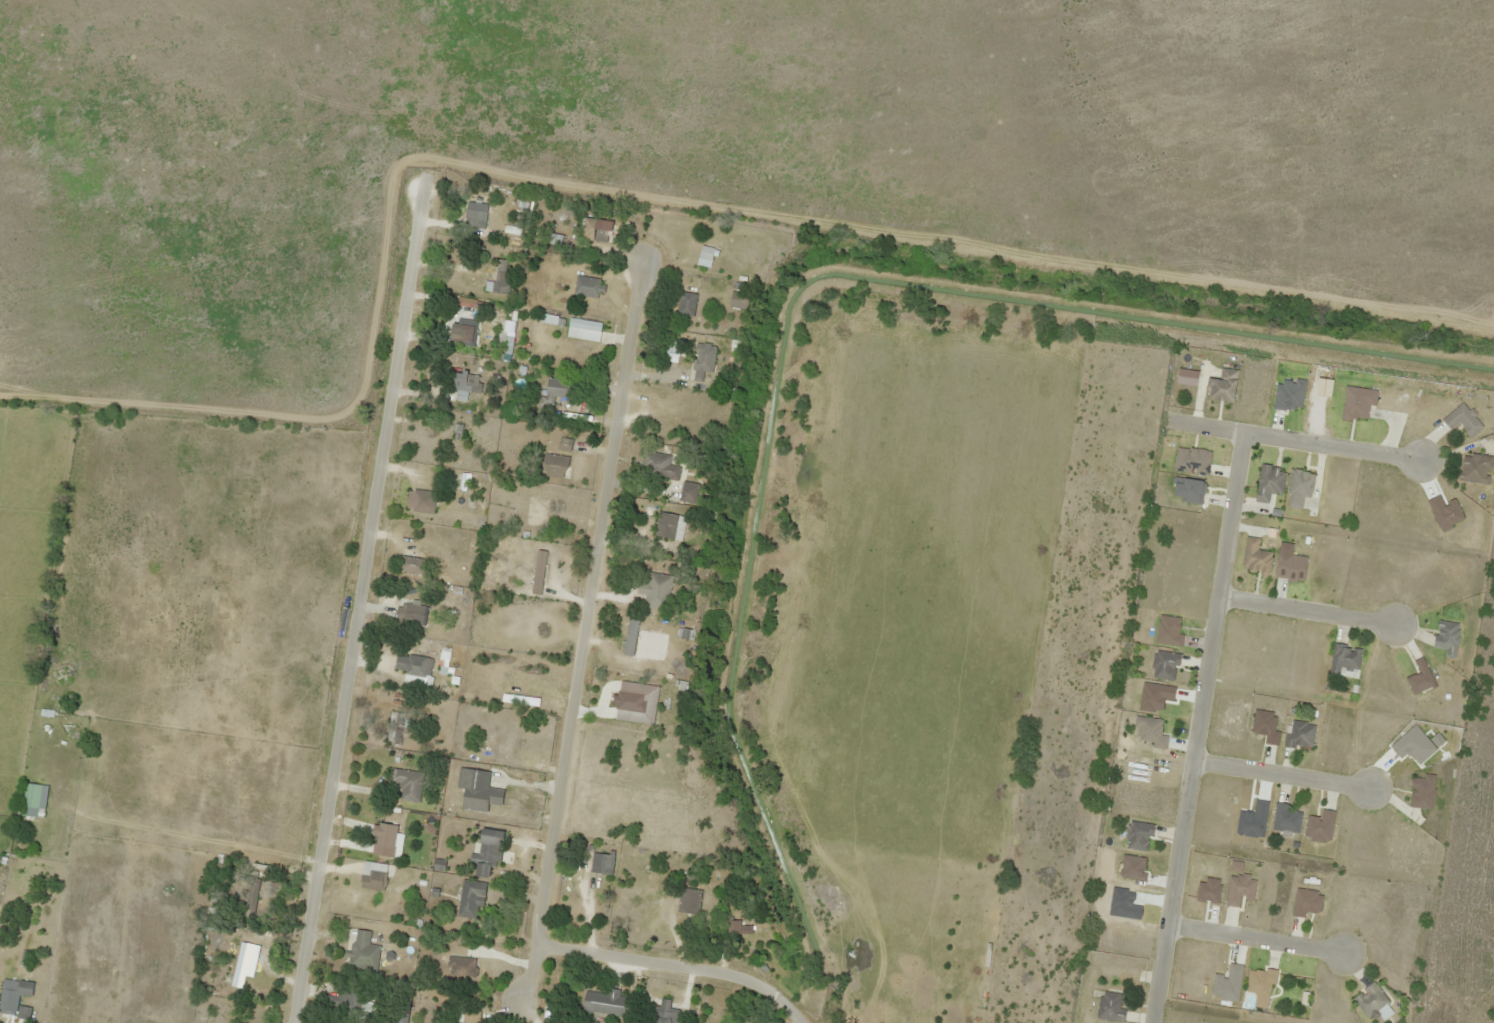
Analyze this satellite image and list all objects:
building: (475, 214)
building: (598, 231)
building: (704, 256)
building: (501, 277)
road: (1222, 282)
building: (587, 287)
building: (738, 300)
building: (466, 302)
building: (684, 303)
building: (583, 330)
building: (461, 331)
building: (507, 336)
building: (702, 360)
building: (1222, 385)
building: (465, 386)
building: (557, 389)
building: (1461, 420)
building: (458, 431)
road: (1293, 439)
building: (564, 443)
building: (554, 465)
building: (657, 465)
building: (1475, 468)
building: (461, 481)
building: (1268, 481)
building: (688, 492)
building: (422, 501)
building: (665, 525)
building: (1255, 556)
building: (411, 564)
building: (657, 586)
road: (360, 597)
road: (1304, 610)
building: (409, 612)
building: (1446, 636)
building: (1344, 659)
building: (412, 664)
building: (1163, 665)
building: (628, 701)
building: (1264, 725)
building: (394, 727)
road: (1195, 727)
building: (1300, 734)
road: (566, 740)
road: (1279, 778)
building: (407, 784)
building: (477, 790)
building: (1421, 791)
building: (32, 799)
building: (1285, 819)
building: (1319, 826)
building: (385, 835)
building: (1137, 835)
building: (488, 853)
building: (600, 863)
building: (372, 875)
building: (469, 898)
building: (688, 900)
building: (1305, 902)
building: (732, 927)
road: (1253, 938)
building: (362, 950)
building: (238, 966)
building: (459, 966)
road: (527, 972)
building: (1259, 981)
building: (13, 999)
building: (347, 1000)
building: (1369, 1000)
building: (605, 1002)
building: (1110, 1006)
building: (663, 1013)
building: (464, 1022)
building: (759, 1022)

